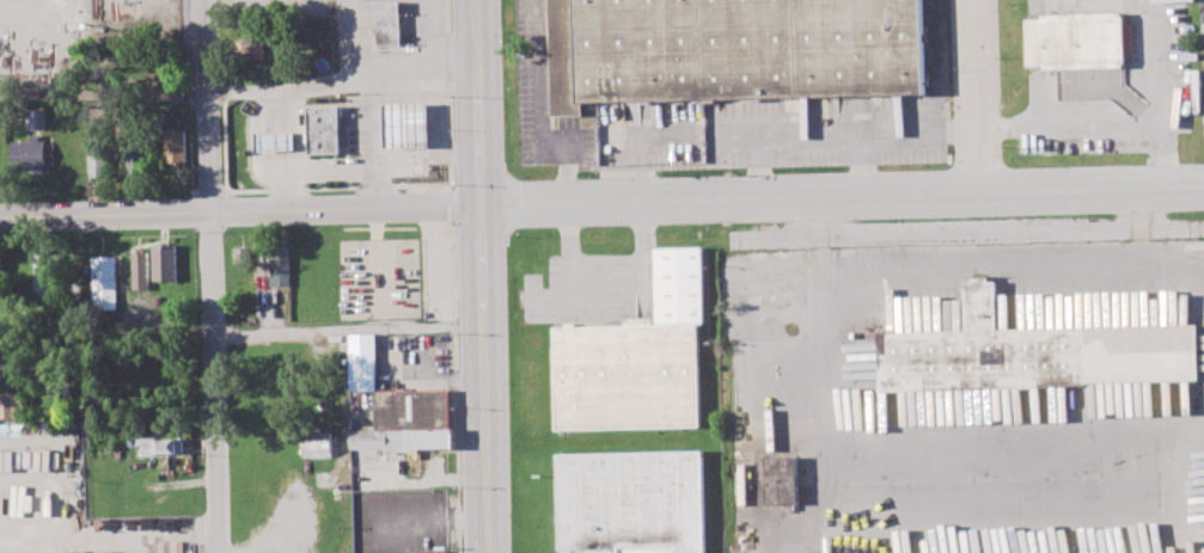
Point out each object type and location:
building: (386, 20)
building: (1076, 41)
building: (258, 45)
building: (731, 50)
building: (151, 74)
road: (379, 76)
parking lot: (1118, 76)
road: (289, 90)
road: (979, 92)
road: (103, 93)
road: (446, 98)
road: (207, 105)
building: (110, 109)
road: (538, 116)
building: (36, 118)
road: (1118, 118)
building: (408, 125)
road: (867, 128)
building: (324, 130)
gas station: (325, 130)
building: (276, 141)
building: (173, 146)
road: (1160, 147)
building: (32, 154)
road: (427, 154)
building: (97, 156)
building: (136, 158)
road: (858, 160)
road: (754, 164)
road: (330, 168)
road: (601, 202)
road: (446, 205)
building: (244, 254)
road: (377, 257)
building: (164, 263)
building: (280, 264)
building: (43, 270)
building: (140, 270)
building: (0, 274)
road: (483, 276)
parking lot: (379, 278)
building: (104, 282)
road: (242, 332)
building: (1035, 351)
building: (637, 355)
building: (362, 361)
building: (7, 362)
road: (215, 382)
road: (453, 386)
parking lot: (968, 387)
building: (11, 404)
building: (411, 410)
building: (405, 440)
building: (160, 446)
building: (317, 447)
road: (881, 447)
building: (782, 480)
parking lot: (68, 499)
building: (631, 499)
building: (435, 551)

